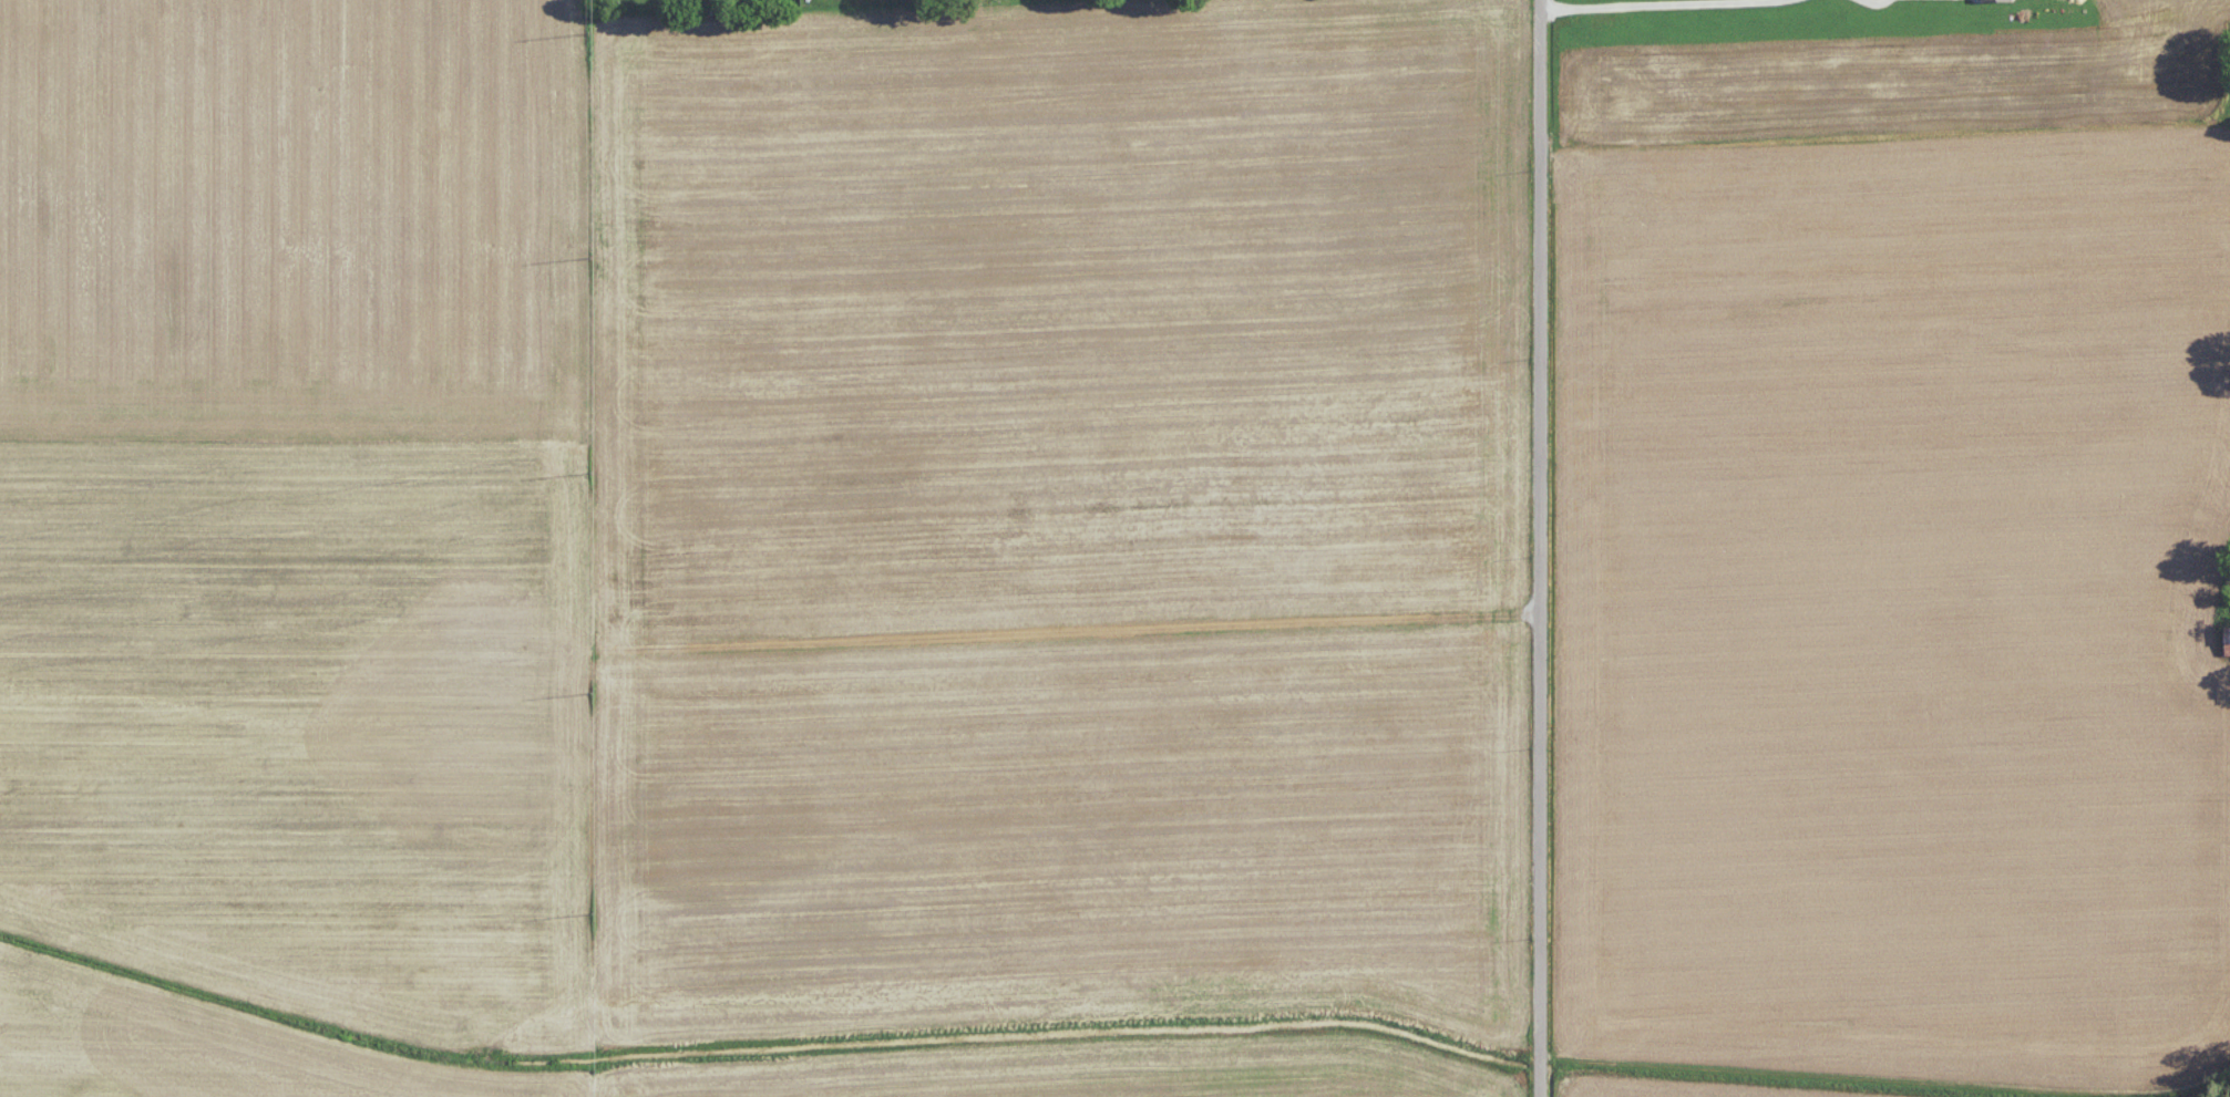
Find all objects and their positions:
road: (1663, 3)
road: (1540, 548)
building: (2228, 639)

